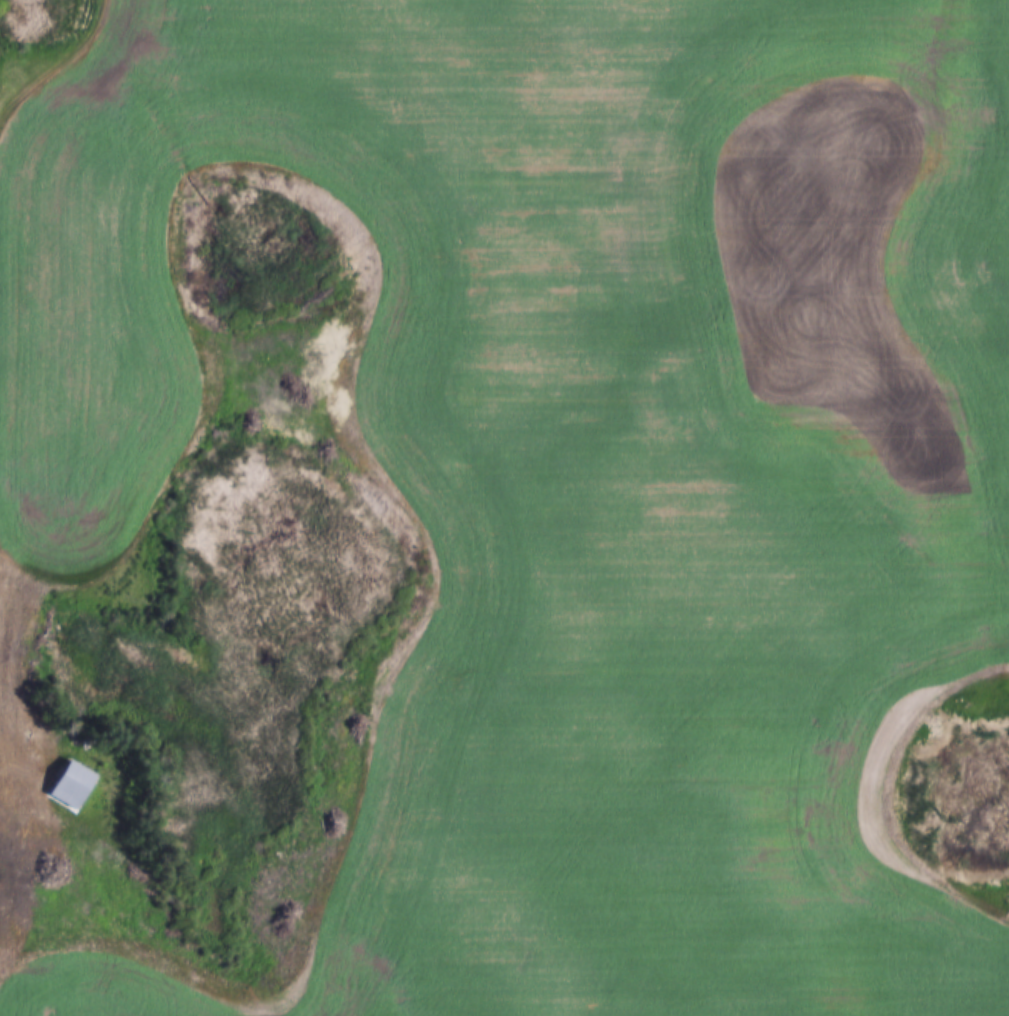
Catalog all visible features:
road: (62, 68)
building: (71, 784)

